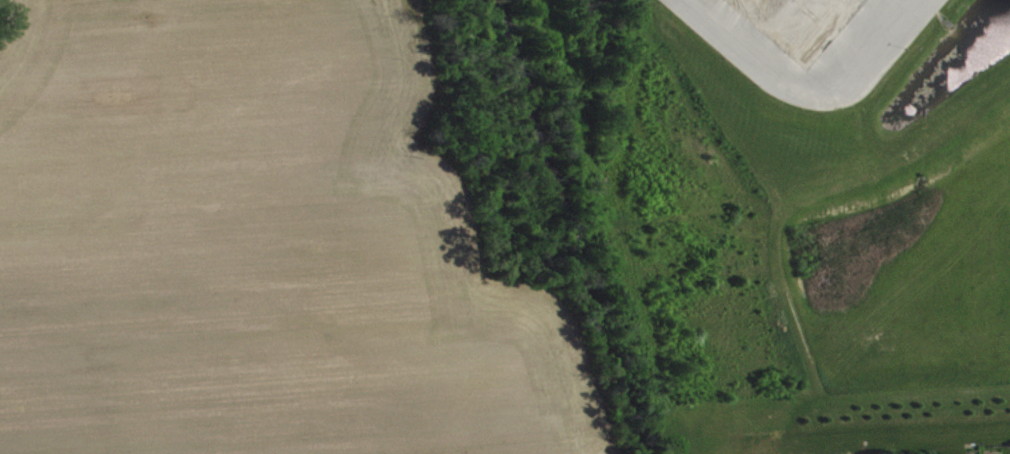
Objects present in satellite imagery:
road: (808, 93)

